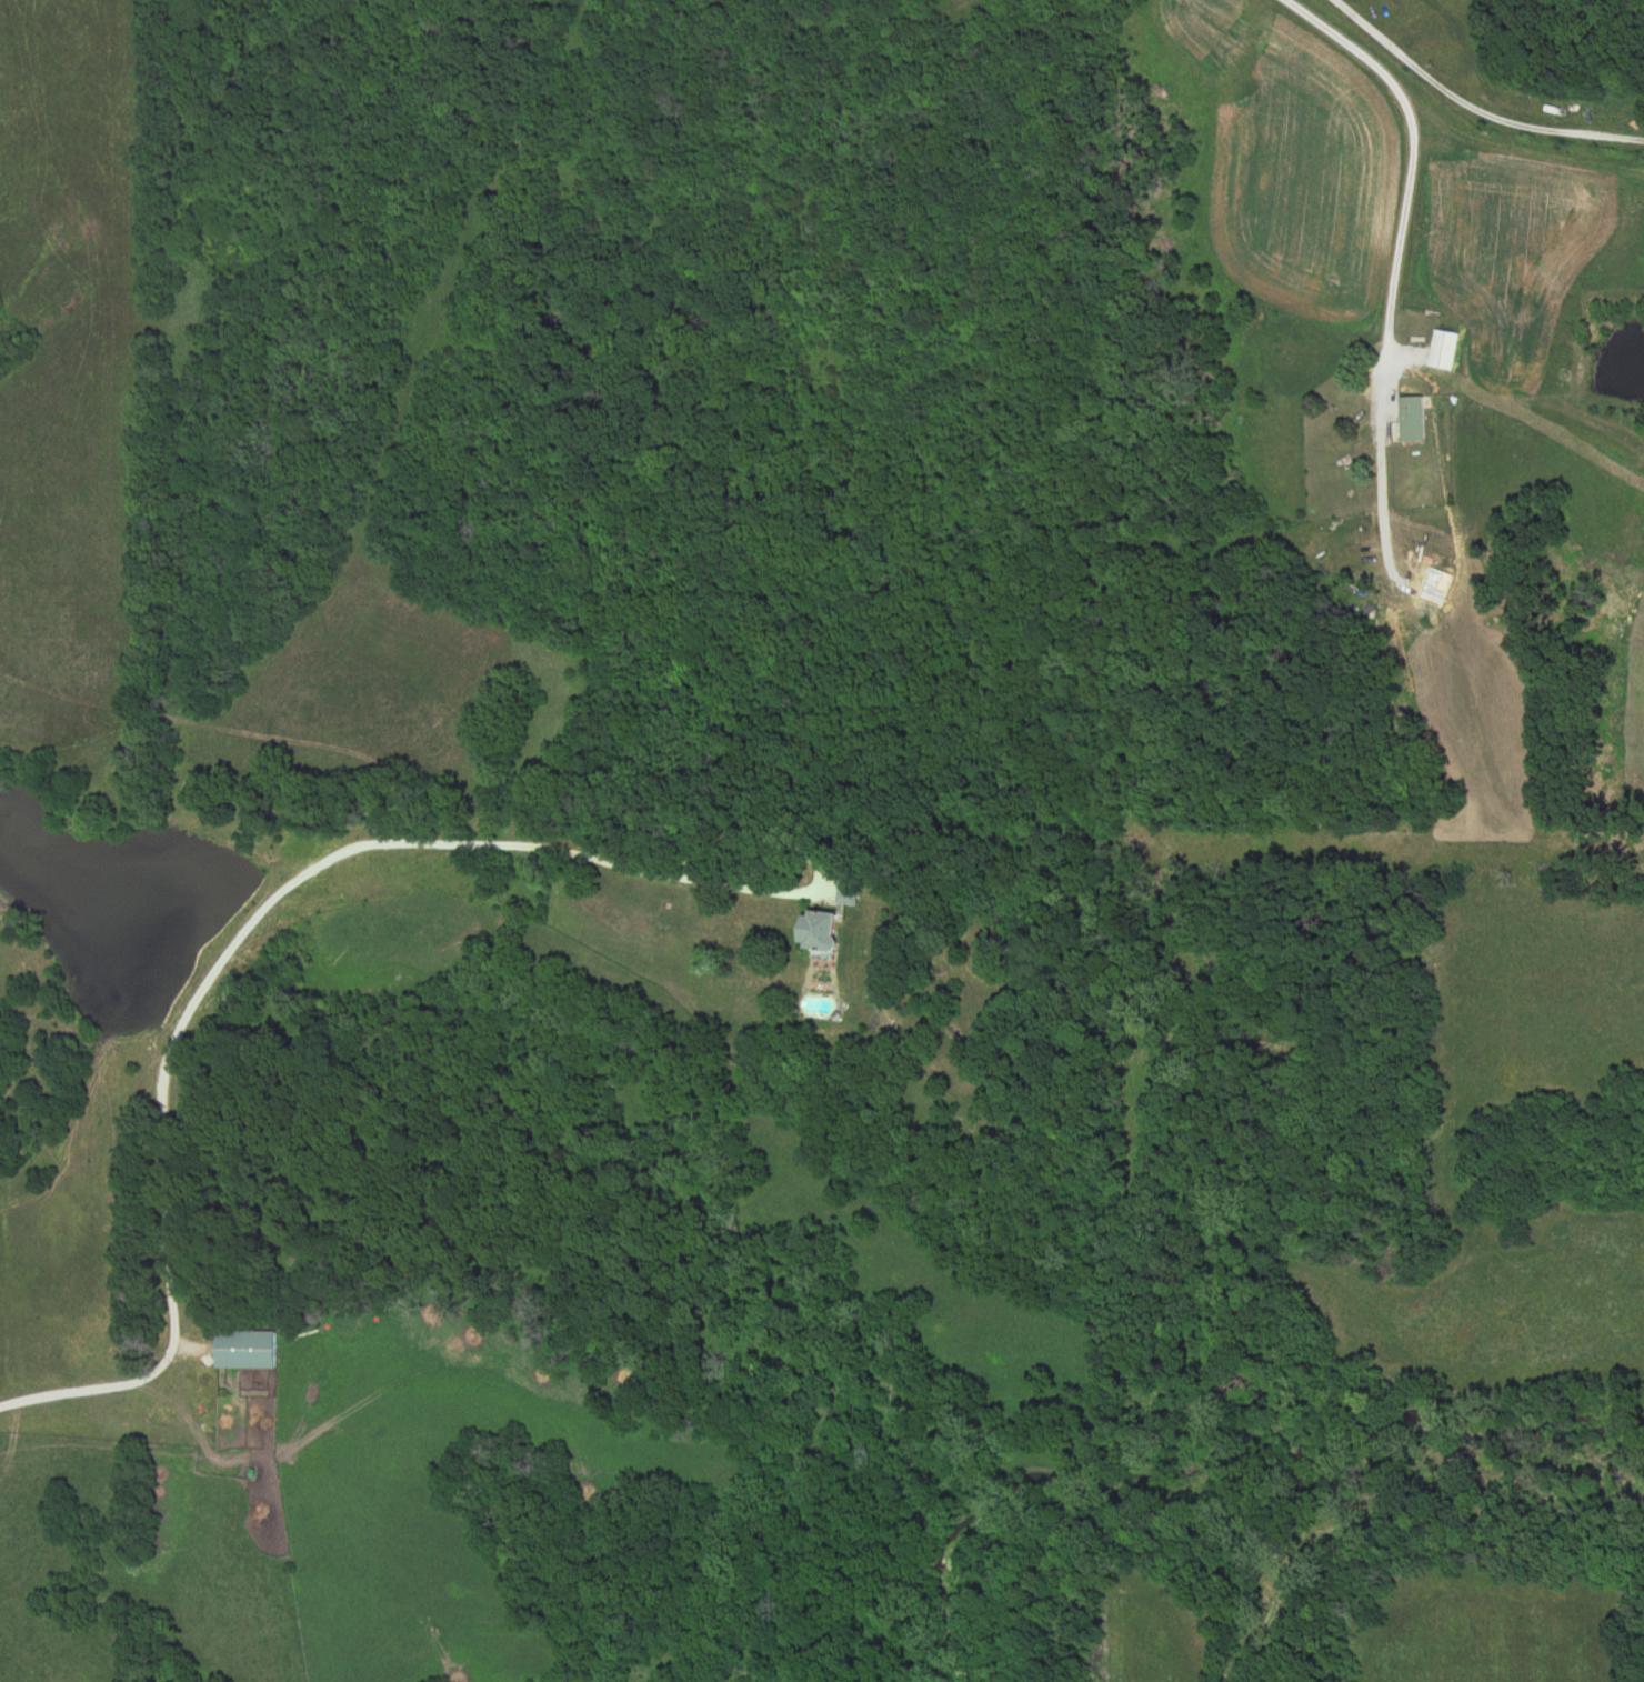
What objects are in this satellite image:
road: (1474, 102)
road: (1412, 152)
building: (1442, 352)
building: (1411, 420)
building: (850, 891)
building: (822, 930)
road: (244, 935)
building: (245, 1349)

